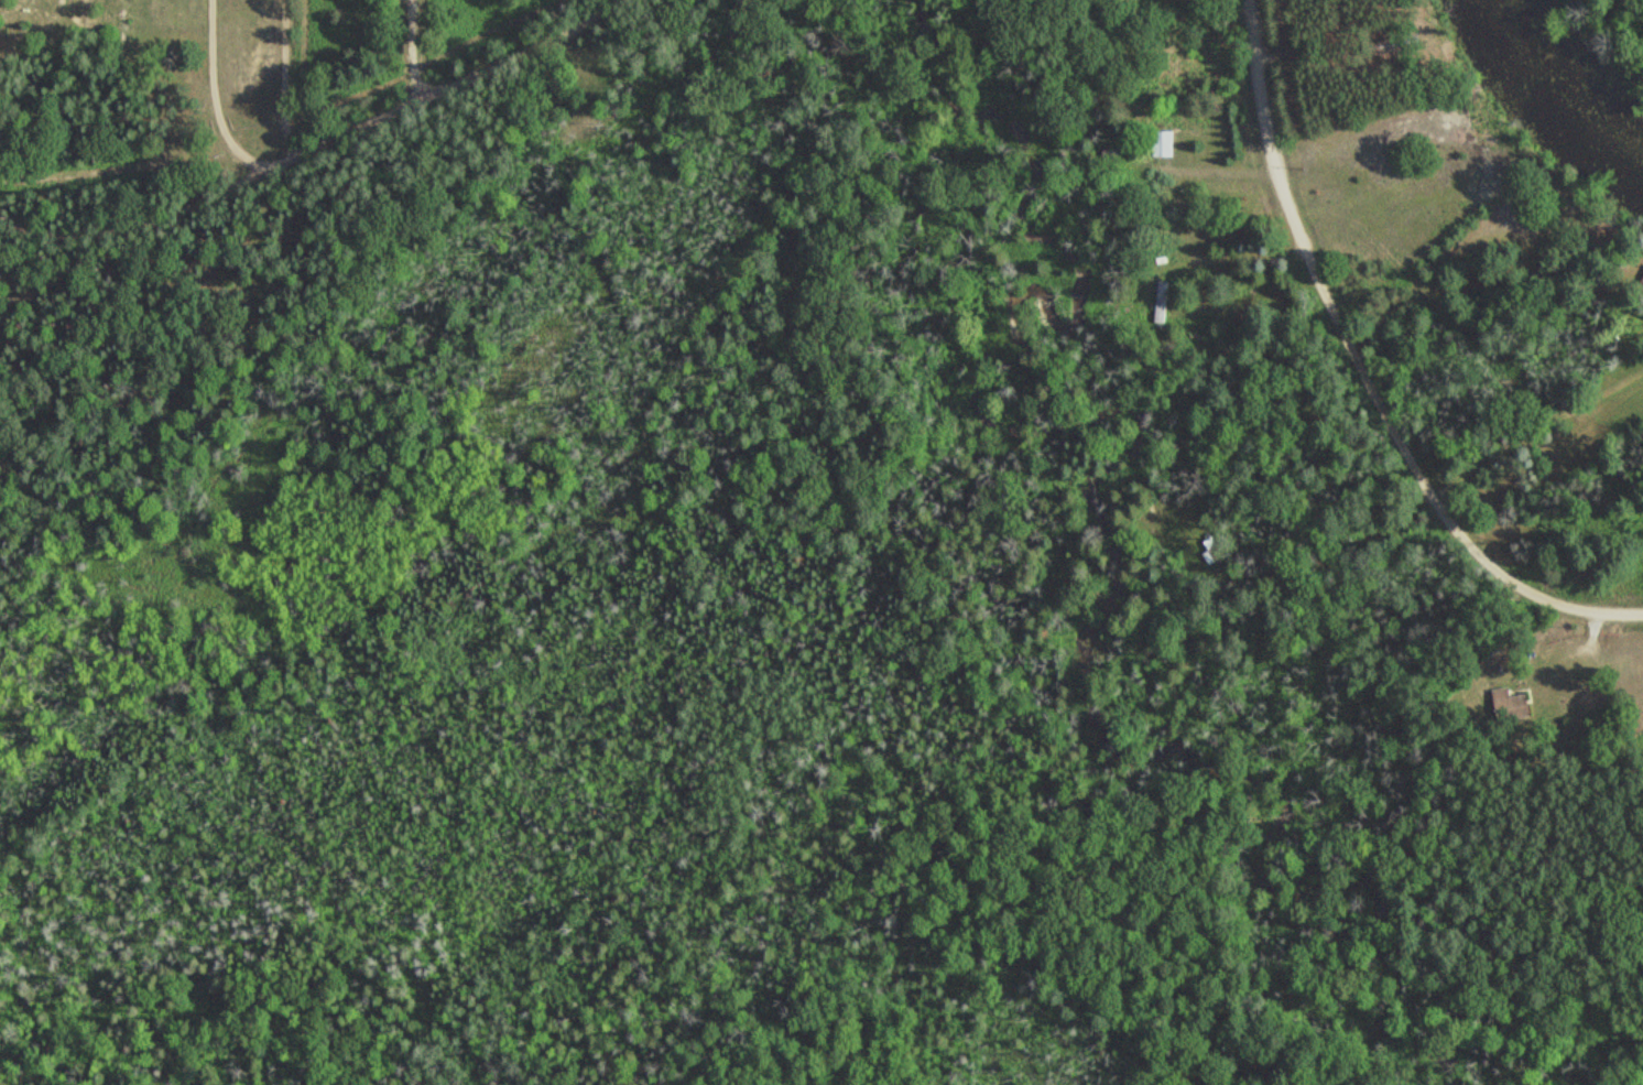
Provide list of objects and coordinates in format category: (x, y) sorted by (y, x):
road: (276, 101)
building: (1166, 143)
road: (318, 185)
road: (3, 195)
building: (1162, 302)
road: (1360, 378)
road: (1528, 427)
building: (1503, 698)

